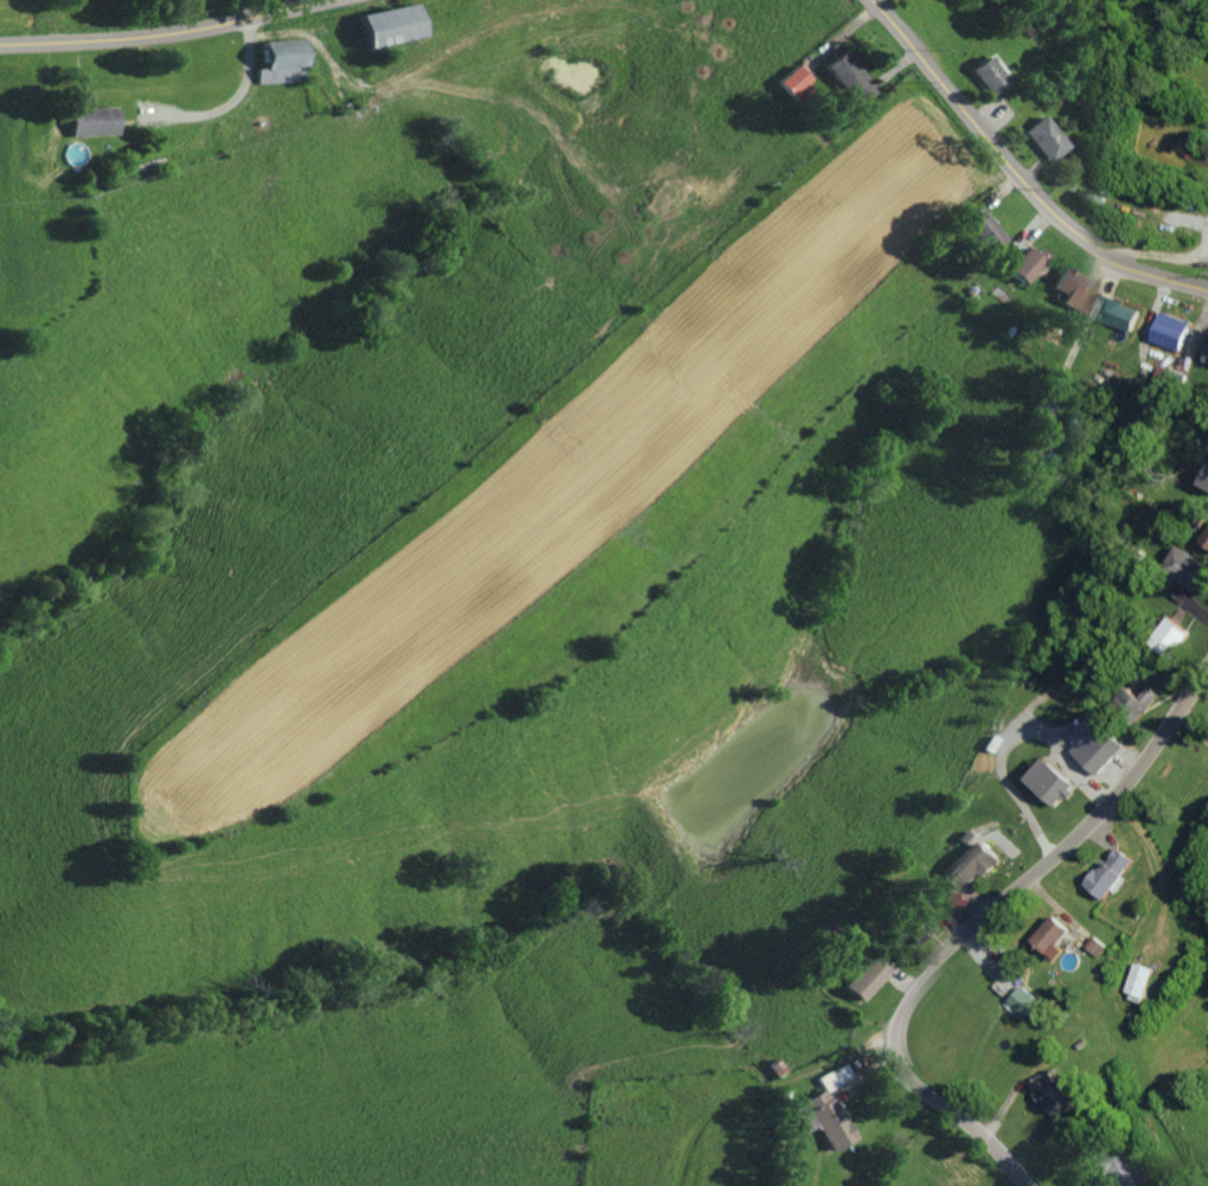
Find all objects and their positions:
building: (392, 23)
road: (149, 31)
building: (281, 59)
building: (985, 73)
building: (846, 76)
building: (792, 79)
building: (92, 120)
building: (1038, 136)
road: (1012, 177)
building: (976, 227)
building: (1018, 263)
building: (1067, 288)
building: (1129, 312)
building: (1182, 331)
road: (1078, 339)
building: (1070, 431)
building: (1207, 539)
building: (1190, 566)
building: (1170, 636)
building: (1136, 703)
building: (1101, 748)
building: (1053, 782)
building: (977, 864)
building: (1114, 871)
building: (961, 900)
road: (969, 913)
building: (919, 928)
building: (1056, 934)
building: (1100, 945)
building: (864, 976)
building: (1143, 982)
building: (1030, 1000)
building: (1057, 1094)
building: (824, 1109)
building: (1111, 1167)

